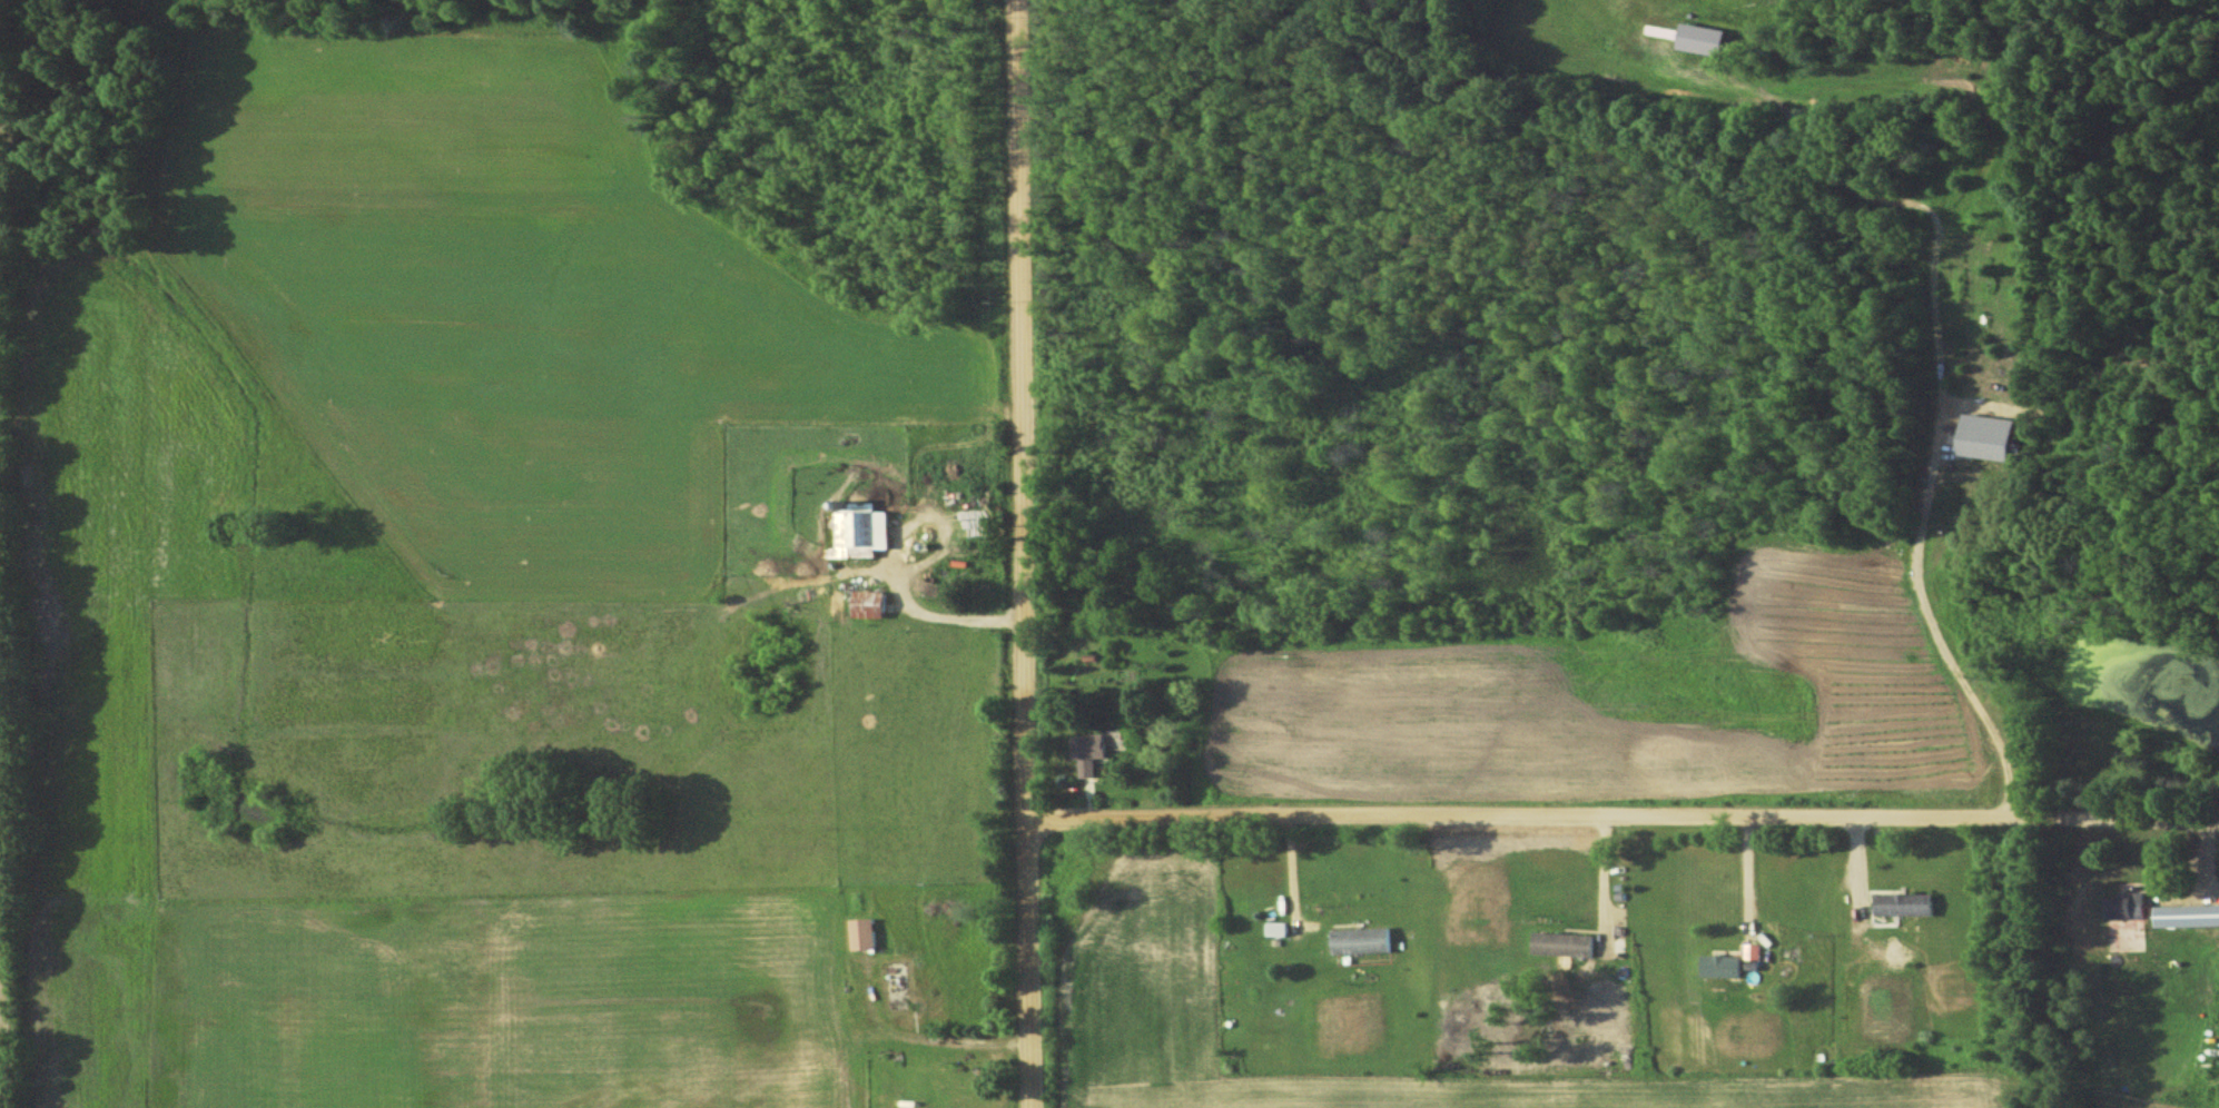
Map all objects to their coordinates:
building: (1708, 38)
road: (1936, 340)
building: (1991, 436)
building: (861, 534)
road: (1022, 554)
building: (871, 604)
road: (940, 621)
building: (1091, 752)
road: (1619, 817)
road: (1752, 889)
building: (1907, 904)
building: (2130, 906)
building: (2188, 916)
building: (1280, 929)
building: (866, 933)
building: (1363, 941)
building: (1566, 944)
building: (1754, 951)
building: (1726, 966)

